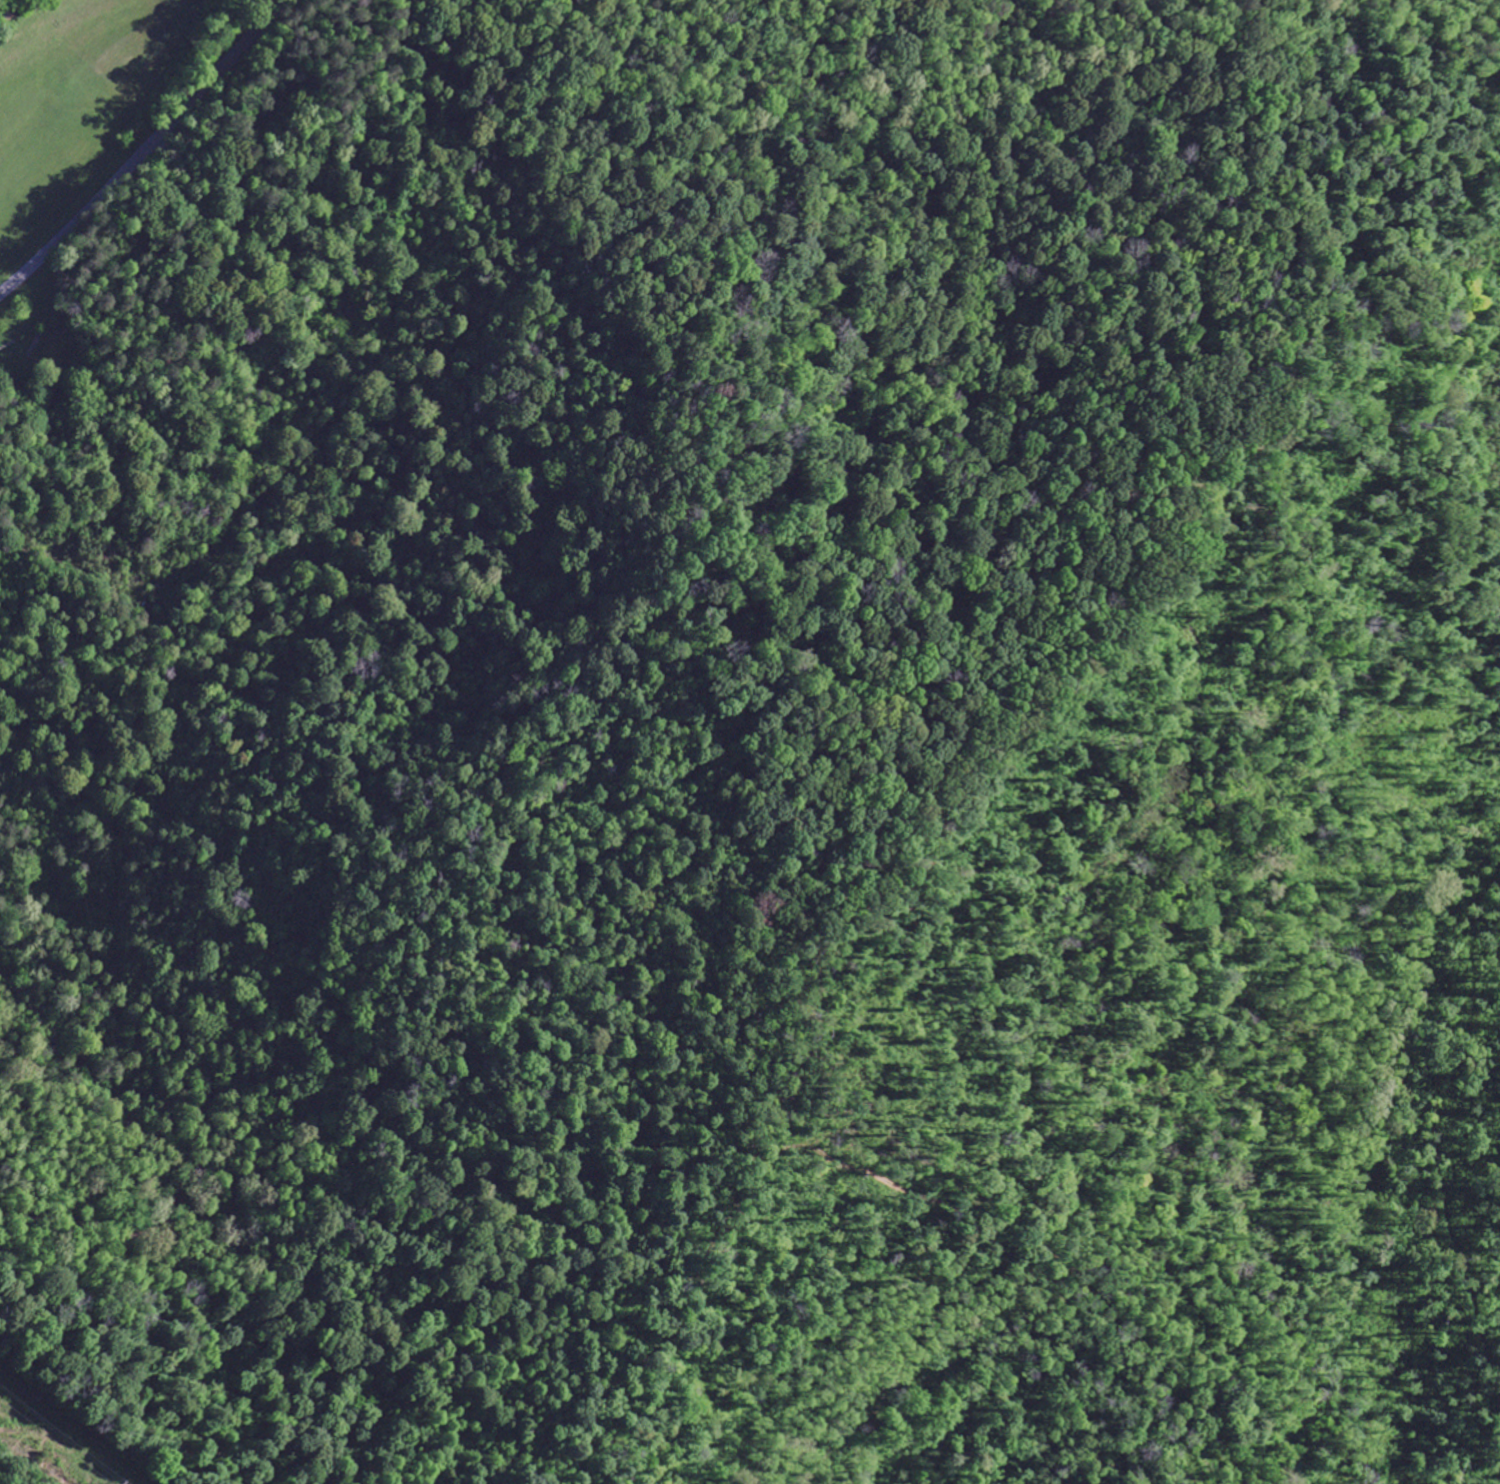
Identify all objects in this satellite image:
road: (146, 150)

